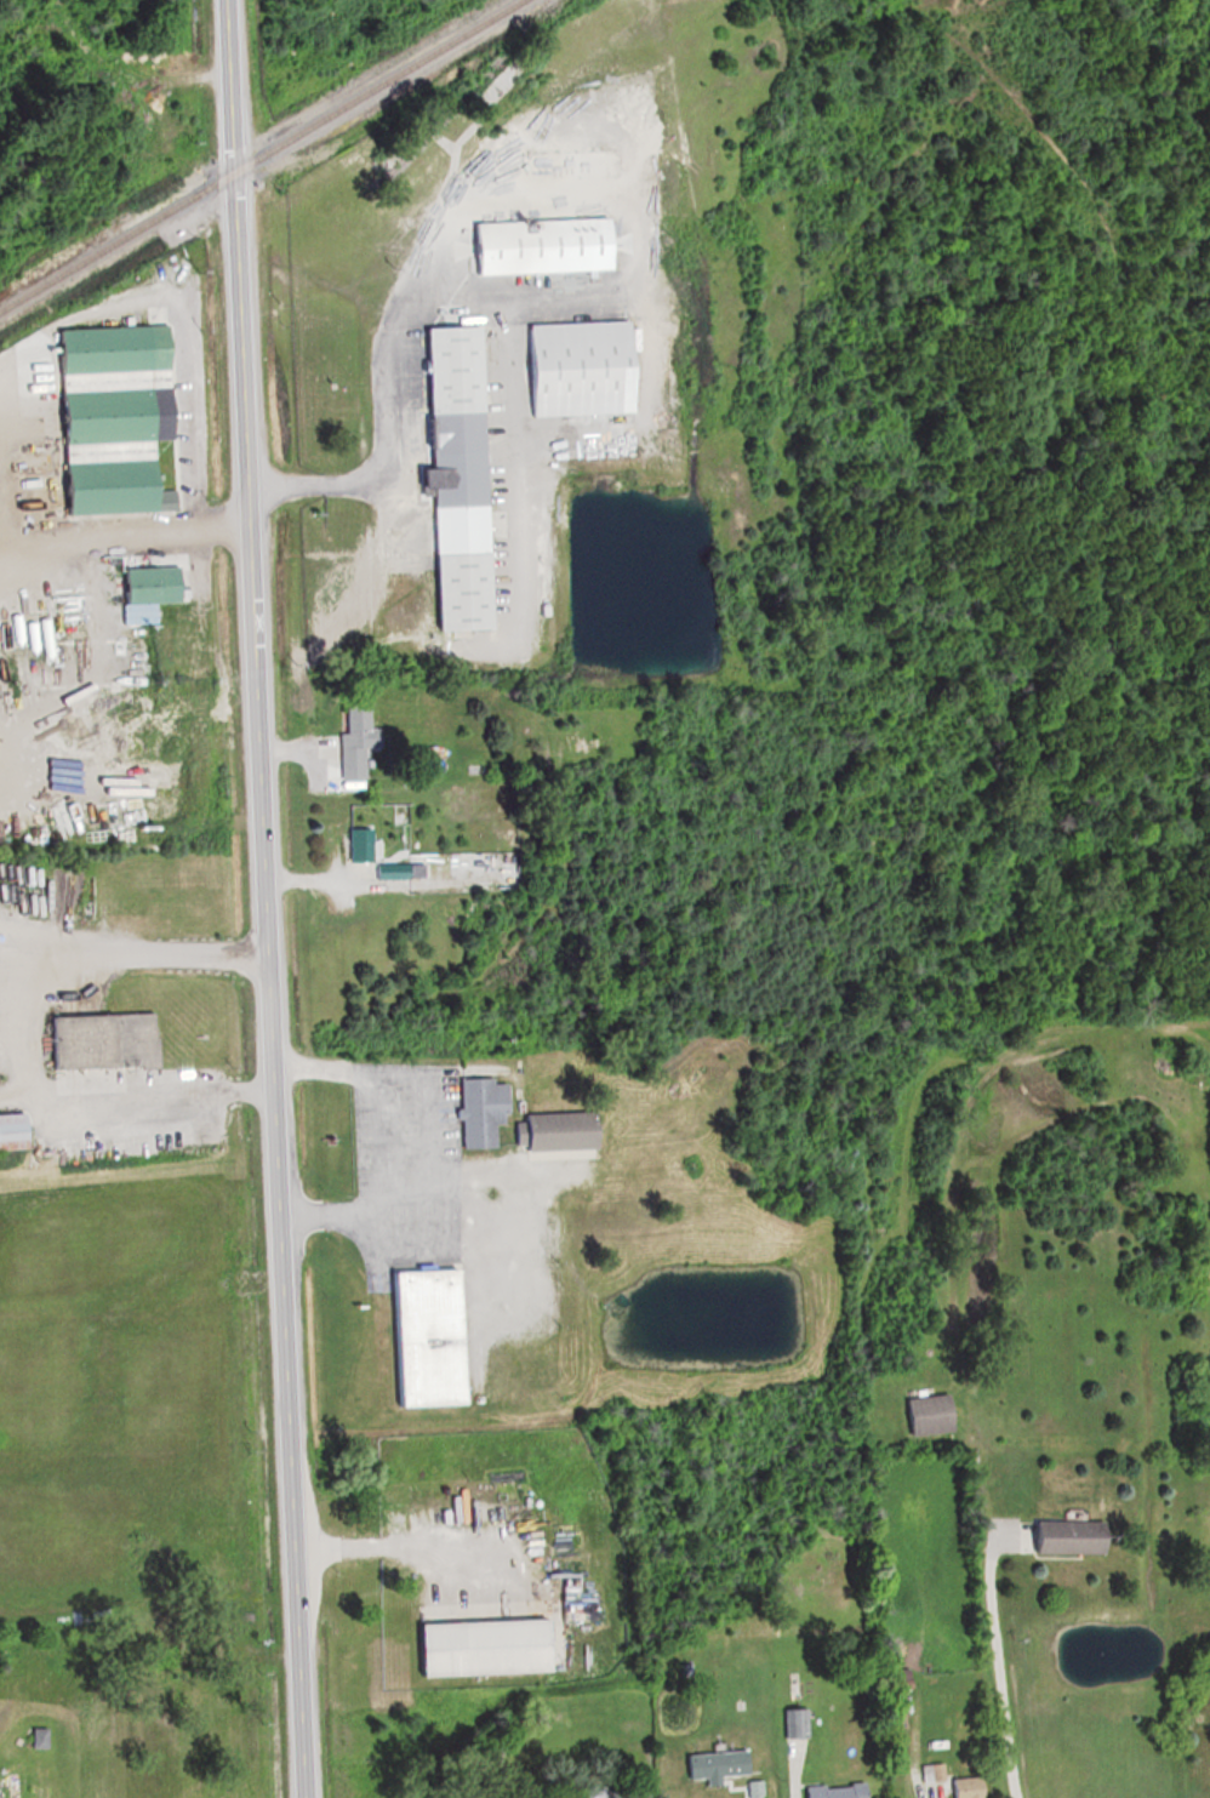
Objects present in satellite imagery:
railway: (464, 95)
railway: (261, 155)
building: (560, 167)
road: (508, 193)
building: (542, 250)
building: (580, 373)
building: (116, 388)
building: (461, 480)
building: (112, 483)
road: (280, 487)
road: (4, 532)
road: (120, 538)
building: (152, 592)
building: (355, 742)
building: (205, 772)
building: (356, 844)
building: (390, 871)
road: (263, 898)
road: (22, 1037)
building: (103, 1044)
building: (476, 1114)
building: (12, 1132)
building: (552, 1132)
road: (376, 1136)
parking lot: (400, 1175)
building: (432, 1341)
building: (924, 1416)
building: (1063, 1537)
road: (415, 1545)
building: (475, 1646)
road: (998, 1665)
building: (897, 1680)
building: (794, 1723)
building: (35, 1737)
building: (713, 1764)
building: (930, 1773)
road: (787, 1775)
building: (964, 1787)
building: (833, 1791)
building: (582, 1794)

